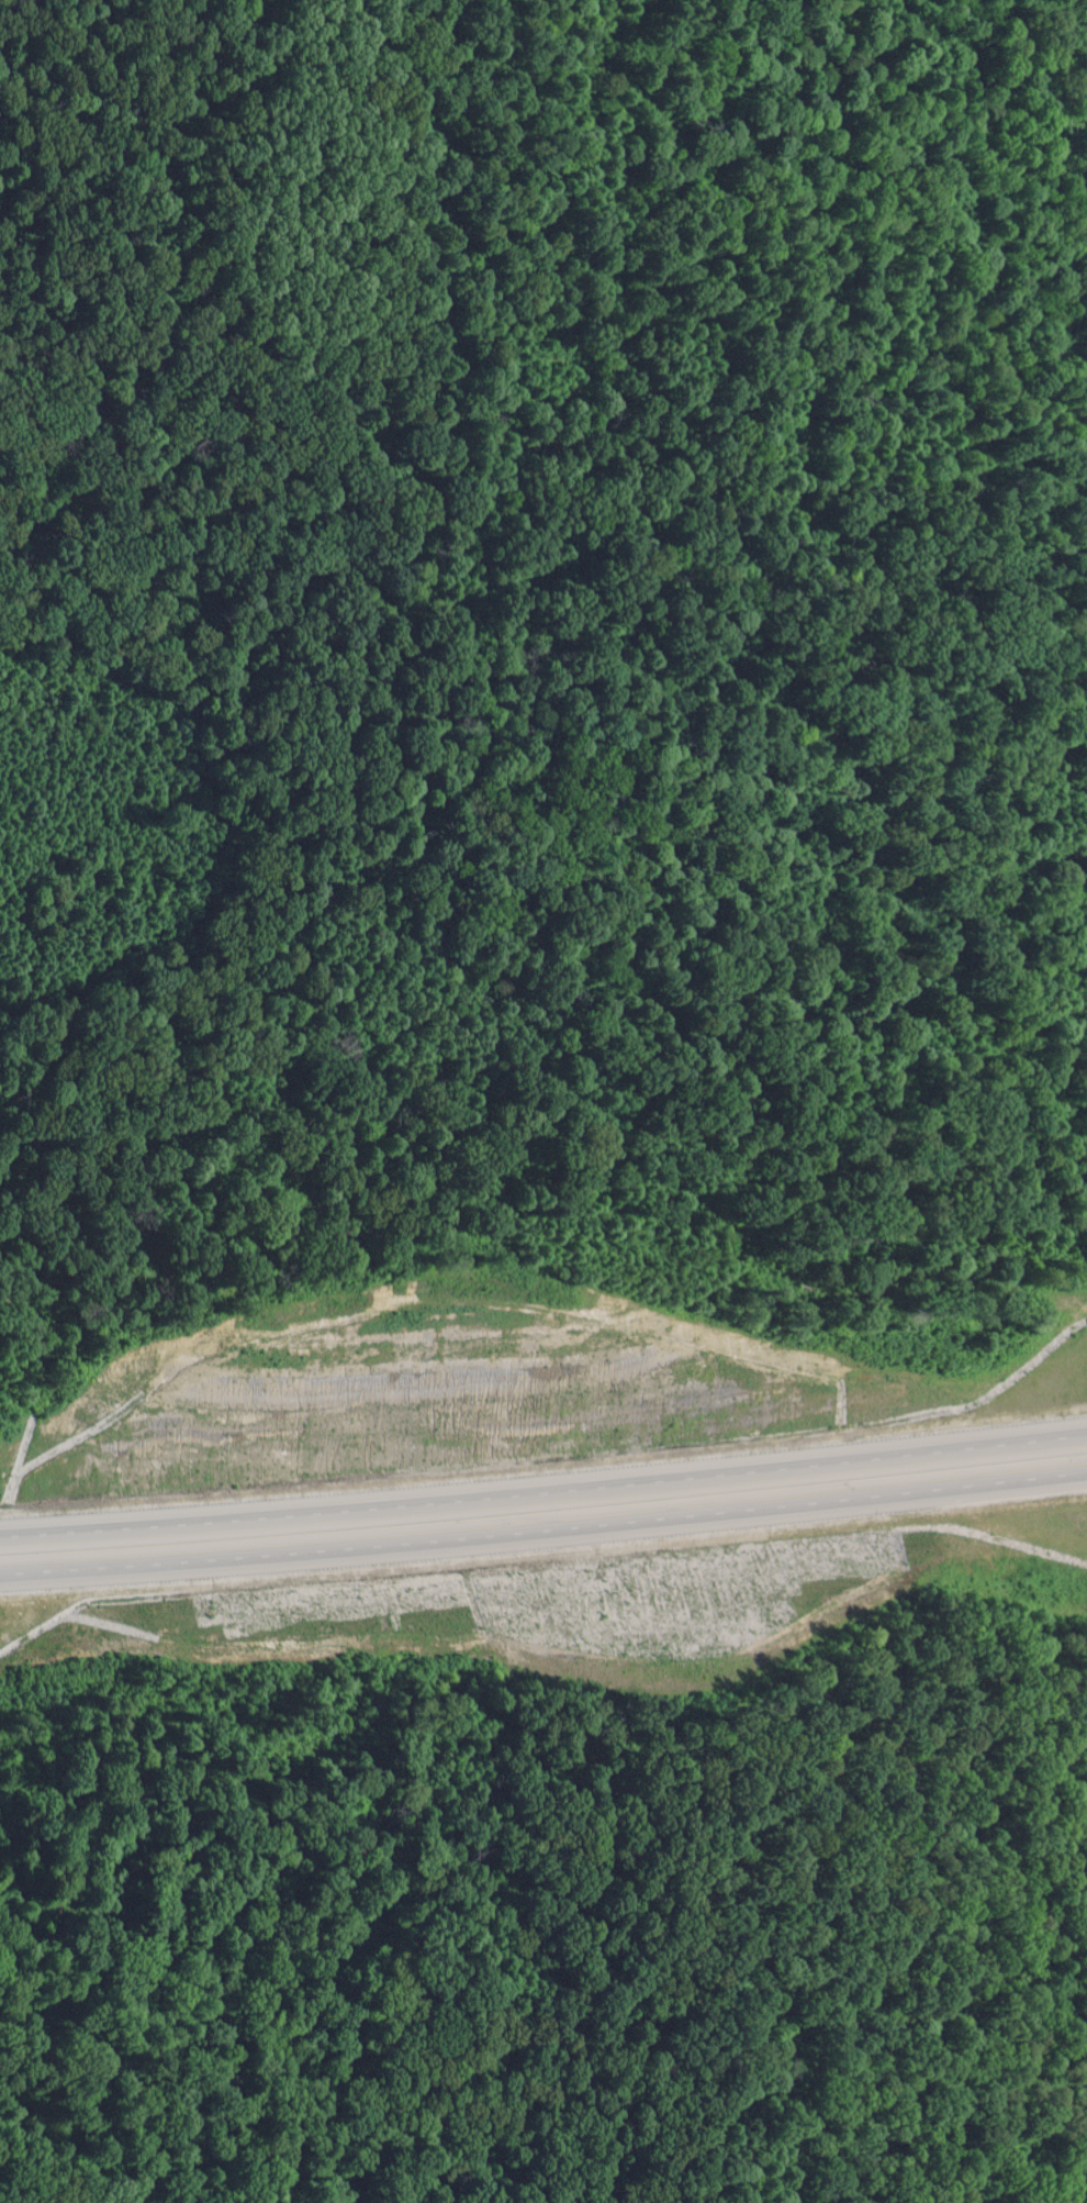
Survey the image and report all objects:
road: (543, 1493)
road: (543, 1532)

